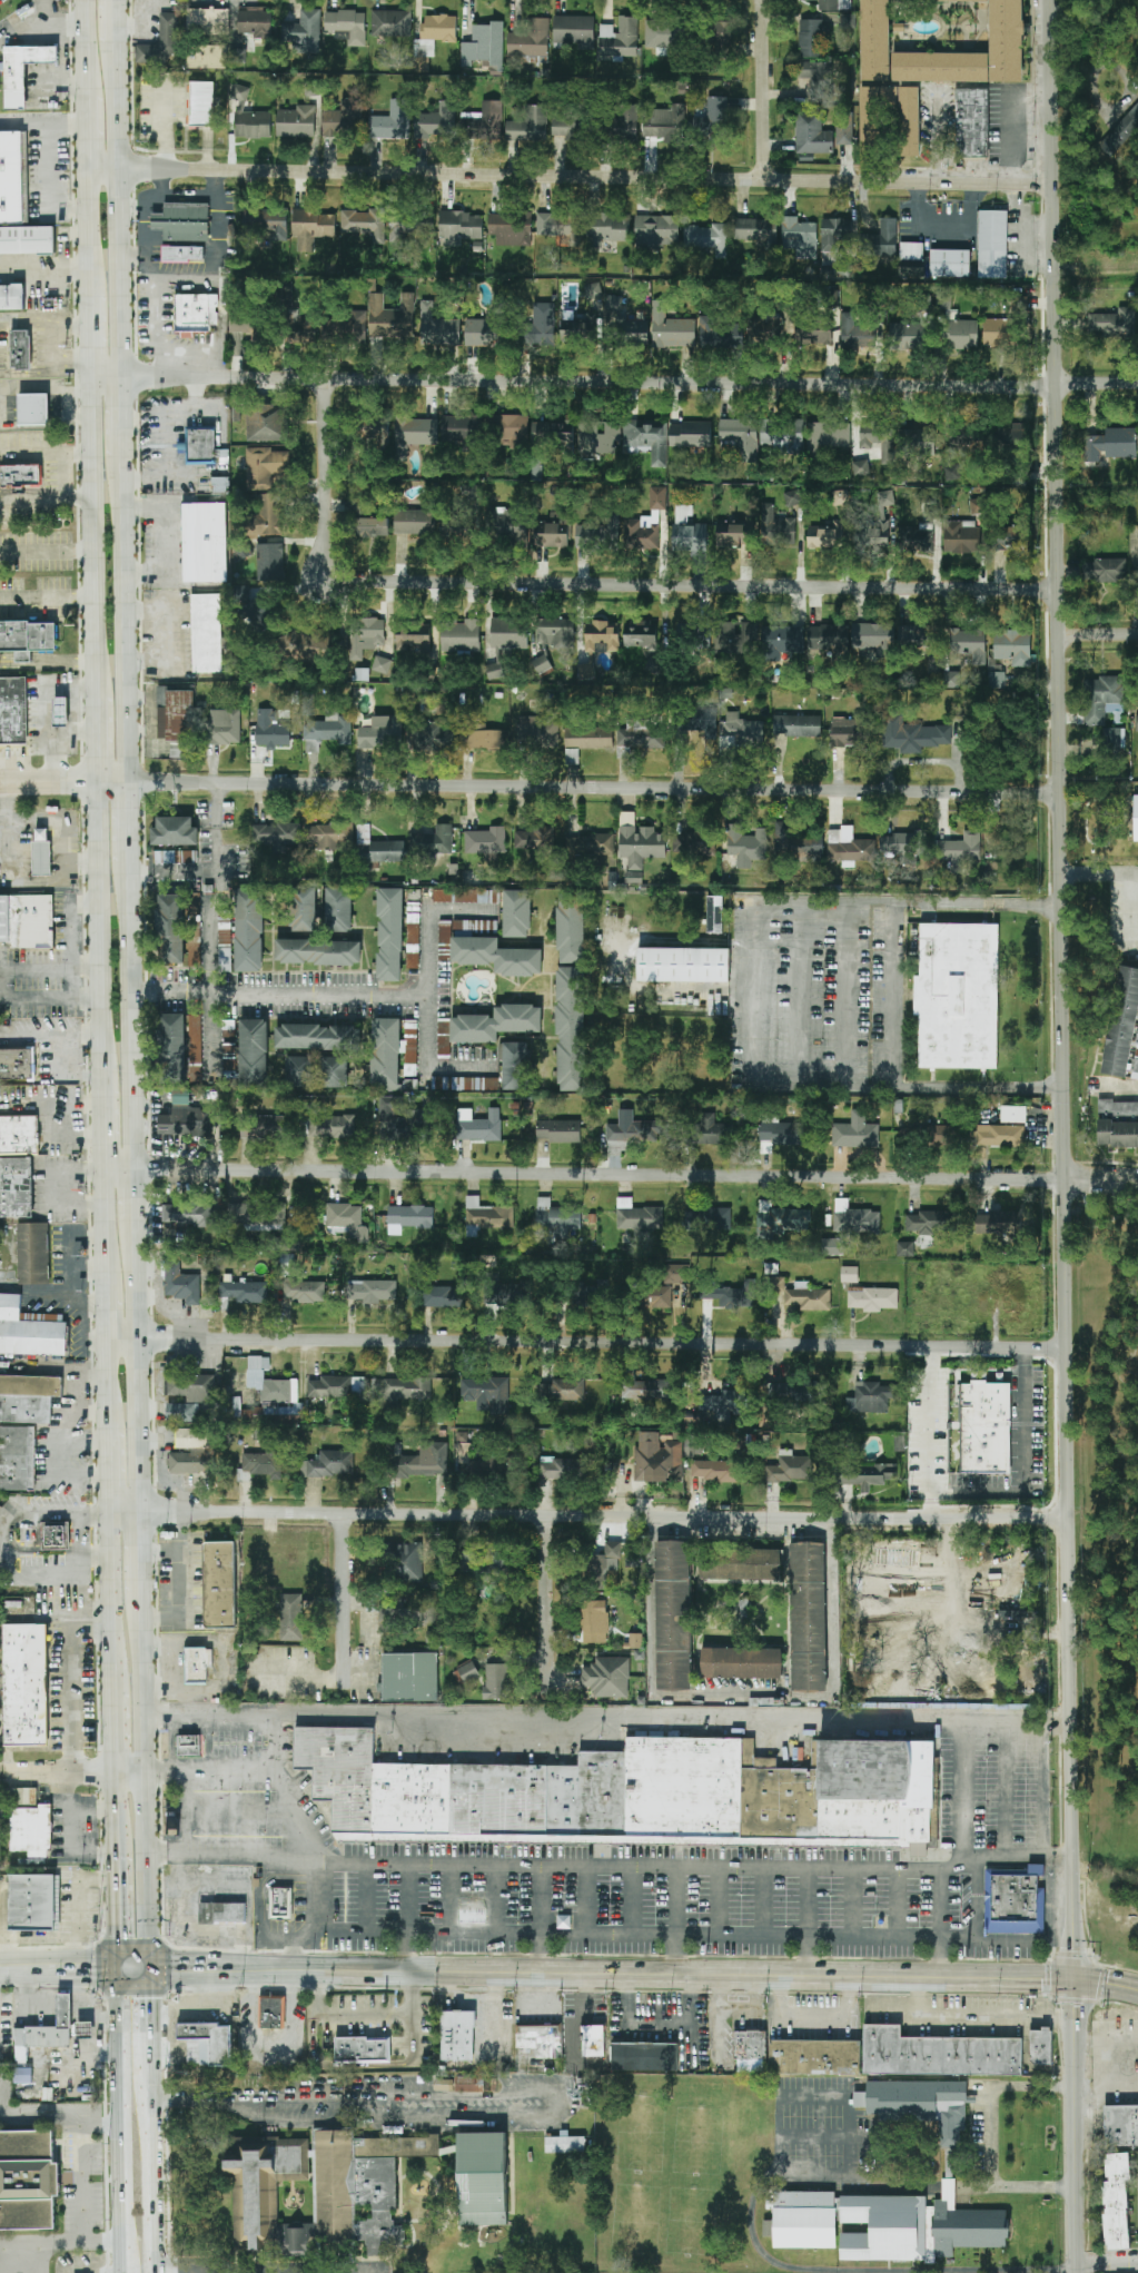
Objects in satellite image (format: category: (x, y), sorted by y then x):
building: (834, 4)
road: (117, 20)
building: (207, 20)
building: (255, 22)
building: (390, 23)
building: (347, 24)
building: (303, 32)
building: (574, 32)
building: (435, 33)
building: (664, 36)
building: (721, 36)
building: (811, 38)
building: (621, 39)
building: (941, 40)
building: (531, 41)
building: (161, 43)
building: (485, 46)
road: (85, 48)
building: (237, 48)
building: (210, 56)
building: (22, 71)
building: (814, 77)
road: (764, 89)
road: (1011, 96)
building: (201, 102)
building: (716, 109)
building: (870, 118)
building: (344, 119)
building: (437, 120)
building: (297, 121)
building: (392, 121)
building: (625, 121)
building: (910, 121)
building: (483, 122)
building: (971, 122)
road: (24, 123)
building: (665, 123)
building: (253, 125)
building: (528, 126)
building: (568, 126)
road: (165, 127)
road: (88, 131)
building: (812, 134)
building: (844, 134)
building: (1120, 134)
road: (936, 138)
road: (1012, 141)
road: (49, 167)
road: (570, 175)
building: (13, 177)
road: (158, 191)
road: (138, 207)
road: (120, 208)
road: (157, 221)
building: (266, 223)
building: (365, 223)
road: (942, 223)
building: (407, 225)
building: (556, 226)
building: (459, 227)
building: (313, 228)
building: (608, 228)
building: (511, 229)
building: (182, 230)
building: (758, 230)
road: (89, 231)
building: (657, 231)
building: (835, 234)
building: (800, 237)
building: (709, 238)
building: (27, 240)
road: (155, 240)
road: (1022, 243)
building: (992, 244)
building: (912, 254)
road: (219, 259)
building: (950, 263)
building: (835, 265)
road: (44, 267)
building: (593, 290)
building: (11, 297)
building: (196, 312)
road: (151, 314)
road: (26, 317)
building: (392, 318)
building: (627, 322)
building: (1112, 323)
building: (541, 324)
building: (305, 326)
building: (349, 326)
building: (250, 327)
building: (437, 327)
building: (487, 328)
building: (671, 328)
building: (577, 329)
road: (90, 330)
building: (814, 333)
building: (1000, 333)
building: (720, 334)
building: (855, 334)
building: (909, 334)
building: (963, 334)
road: (51, 344)
building: (20, 349)
road: (160, 363)
road: (219, 364)
road: (106, 366)
road: (28, 373)
road: (107, 376)
road: (630, 383)
road: (28, 389)
road: (73, 389)
road: (56, 399)
road: (73, 408)
building: (33, 409)
road: (33, 409)
road: (52, 409)
road: (9, 411)
road: (122, 416)
building: (267, 422)
building: (462, 427)
building: (509, 431)
building: (416, 432)
building: (553, 433)
building: (690, 434)
building: (783, 434)
building: (829, 434)
building: (597, 438)
building: (647, 438)
building: (741, 438)
building: (878, 438)
building: (917, 442)
building: (967, 443)
building: (1110, 445)
building: (201, 446)
road: (46, 452)
building: (265, 466)
building: (860, 467)
road: (62, 473)
building: (20, 476)
building: (218, 484)
road: (47, 495)
building: (657, 497)
building: (792, 497)
building: (840, 497)
building: (978, 506)
building: (265, 515)
building: (415, 522)
building: (370, 527)
building: (507, 527)
building: (457, 528)
building: (778, 528)
road: (93, 531)
building: (687, 531)
building: (877, 531)
building: (642, 532)
building: (734, 533)
building: (596, 535)
building: (550, 536)
building: (827, 536)
building: (961, 537)
building: (1011, 538)
building: (914, 541)
building: (205, 543)
road: (47, 552)
building: (269, 562)
building: (1110, 570)
road: (167, 581)
road: (591, 585)
road: (62, 599)
building: (258, 615)
road: (126, 619)
building: (555, 632)
building: (694, 632)
building: (207, 633)
building: (508, 633)
building: (641, 634)
building: (365, 635)
building: (461, 635)
road: (1098, 635)
building: (602, 636)
building: (27, 638)
building: (735, 638)
building: (833, 638)
building: (874, 638)
building: (914, 638)
building: (413, 639)
building: (782, 639)
building: (304, 644)
building: (970, 644)
building: (1009, 652)
building: (382, 664)
building: (541, 664)
road: (48, 665)
building: (495, 671)
building: (585, 672)
building: (951, 680)
building: (1101, 699)
building: (13, 711)
road: (48, 711)
building: (61, 711)
building: (177, 717)
building: (699, 721)
building: (1137, 723)
building: (796, 725)
building: (225, 727)
building: (743, 729)
building: (273, 731)
building: (327, 732)
building: (382, 732)
building: (540, 732)
building: (850, 732)
road: (72, 734)
building: (912, 734)
building: (642, 735)
building: (433, 737)
building: (588, 738)
building: (1114, 738)
road: (97, 740)
building: (489, 740)
building: (572, 755)
road: (112, 782)
road: (48, 783)
road: (593, 788)
road: (218, 806)
building: (1136, 818)
road: (128, 829)
building: (175, 831)
building: (276, 834)
building: (329, 836)
building: (534, 839)
building: (433, 841)
building: (486, 842)
building: (796, 843)
building: (588, 844)
building: (639, 846)
building: (693, 846)
building: (746, 846)
building: (903, 846)
building: (377, 847)
building: (849, 849)
building: (960, 850)
building: (40, 854)
building: (175, 857)
road: (81, 864)
road: (172, 873)
road: (1099, 874)
road: (19, 881)
building: (461, 896)
road: (873, 900)
building: (304, 909)
building: (339, 909)
road: (214, 910)
road: (895, 912)
building: (517, 913)
building: (714, 915)
building: (27, 923)
building: (170, 929)
building: (249, 929)
building: (571, 929)
road: (128, 933)
building: (390, 935)
road: (100, 936)
building: (224, 937)
building: (318, 951)
building: (195, 952)
building: (683, 965)
road: (19, 969)
road: (71, 970)
road: (160, 992)
road: (380, 992)
road: (801, 994)
building: (958, 996)
road: (750, 1009)
building: (496, 1024)
building: (1122, 1024)
building: (572, 1029)
road: (212, 1030)
building: (317, 1037)
building: (444, 1037)
building: (195, 1039)
building: (171, 1047)
building: (253, 1053)
building: (386, 1054)
road: (425, 1061)
building: (1135, 1061)
building: (17, 1063)
building: (516, 1066)
building: (299, 1071)
building: (335, 1071)
road: (132, 1079)
road: (1114, 1086)
building: (1013, 1114)
building: (185, 1118)
building: (404, 1120)
building: (331, 1126)
building: (479, 1126)
building: (1118, 1126)
building: (263, 1127)
road: (103, 1129)
building: (558, 1130)
building: (710, 1130)
building: (855, 1131)
building: (780, 1135)
building: (999, 1135)
building: (18, 1136)
road: (1063, 1136)
road: (119, 1168)
road: (636, 1174)
road: (63, 1187)
building: (16, 1189)
road: (135, 1192)
building: (487, 1214)
building: (187, 1215)
building: (637, 1216)
building: (258, 1217)
building: (408, 1217)
building: (782, 1218)
building: (344, 1219)
building: (558, 1219)
building: (854, 1219)
building: (931, 1222)
building: (998, 1223)
road: (1089, 1224)
road: (105, 1229)
building: (833, 1246)
building: (904, 1248)
building: (26, 1253)
building: (679, 1274)
building: (849, 1274)
building: (181, 1284)
building: (304, 1291)
building: (372, 1291)
building: (245, 1292)
building: (504, 1294)
building: (591, 1295)
building: (731, 1295)
building: (442, 1296)
building: (659, 1296)
building: (807, 1297)
building: (873, 1299)
road: (107, 1314)
building: (29, 1332)
road: (586, 1343)
road: (137, 1364)
building: (270, 1383)
road: (108, 1384)
building: (336, 1387)
building: (568, 1390)
building: (649, 1390)
building: (406, 1391)
building: (791, 1391)
building: (487, 1393)
building: (188, 1395)
building: (28, 1397)
building: (871, 1397)
building: (725, 1403)
building: (693, 1423)
building: (986, 1427)
road: (931, 1432)
building: (691, 1445)
building: (655, 1456)
building: (17, 1460)
building: (191, 1462)
building: (423, 1462)
building: (263, 1463)
building: (329, 1464)
road: (1022, 1465)
building: (790, 1467)
building: (565, 1469)
building: (715, 1470)
road: (109, 1471)
building: (874, 1473)
road: (86, 1511)
road: (126, 1512)
road: (605, 1515)
building: (55, 1535)
road: (161, 1550)
road: (142, 1551)
building: (408, 1562)
building: (485, 1562)
building: (741, 1563)
building: (605, 1568)
park: (1108, 1573)
road: (10, 1575)
road: (180, 1582)
building: (219, 1584)
road: (344, 1601)
road: (111, 1602)
road: (546, 1607)
building: (398, 1612)
building: (673, 1615)
building: (291, 1617)
building: (809, 1617)
building: (593, 1620)
building: (631, 1621)
building: (635, 1641)
building: (742, 1662)
building: (197, 1664)
building: (467, 1670)
building: (410, 1677)
building: (607, 1677)
road: (296, 1678)
road: (68, 1680)
building: (496, 1681)
building: (24, 1686)
road: (744, 1699)
road: (607, 1720)
road: (113, 1732)
road: (171, 1745)
building: (189, 1746)
road: (0, 1770)
road: (58, 1771)
road: (129, 1772)
road: (209, 1772)
road: (145, 1779)
road: (276, 1791)
road: (962, 1791)
road: (1001, 1792)
road: (1040, 1792)
building: (635, 1795)
building: (22, 1797)
road: (184, 1815)
road: (229, 1815)
building: (31, 1828)
road: (611, 1869)
road: (116, 1870)
road: (366, 1899)
road: (978, 1899)
road: (453, 1900)
road: (495, 1900)
building: (1015, 1900)
building: (32, 1901)
road: (586, 1901)
building: (281, 1903)
road: (634, 1903)
road: (716, 1904)
road: (77, 1905)
road: (762, 1905)
road: (852, 1906)
road: (900, 1906)
building: (220, 1911)
road: (1106, 1914)
road: (406, 1918)
road: (537, 1920)
road: (675, 1923)
road: (807, 1924)
road: (941, 1925)
road: (3, 1930)
road: (722, 1937)
road: (279, 1944)
road: (297, 1957)
traffic signals: (119, 1969)
road: (133, 1969)
traffic signals: (148, 1969)
road: (59, 1970)
road: (643, 1974)
traffic signals: (1076, 1978)
road: (849, 1994)
road: (726, 2008)
road: (52, 2012)
building: (271, 2013)
road: (795, 2014)
road: (364, 2015)
road: (978, 2016)
building: (47, 2030)
road: (75, 2032)
building: (457, 2036)
building: (87, 2039)
road: (1107, 2039)
building: (541, 2040)
building: (593, 2040)
building: (206, 2043)
building: (750, 2045)
building: (1041, 2047)
building: (362, 2050)
building: (938, 2054)
building: (645, 2056)
building: (814, 2057)
road: (363, 2065)
building: (22, 2075)
road: (1117, 2082)
building: (465, 2085)
road: (346, 2099)
building: (919, 2105)
road: (1, 2106)
road: (120, 2106)
road: (150, 2121)
road: (60, 2122)
building: (1121, 2125)
road: (992, 2137)
building: (565, 2144)
building: (482, 2178)
building: (28, 2180)
road: (81, 2183)
road: (893, 2183)
building: (323, 2193)
building: (1116, 2202)
building: (803, 2220)
road: (751, 2223)
building: (918, 2227)
road: (61, 2243)
road: (123, 2257)
road: (2, 2259)
road: (33, 2259)
road: (1108, 2261)
road: (270, 2266)
road: (318, 2271)

